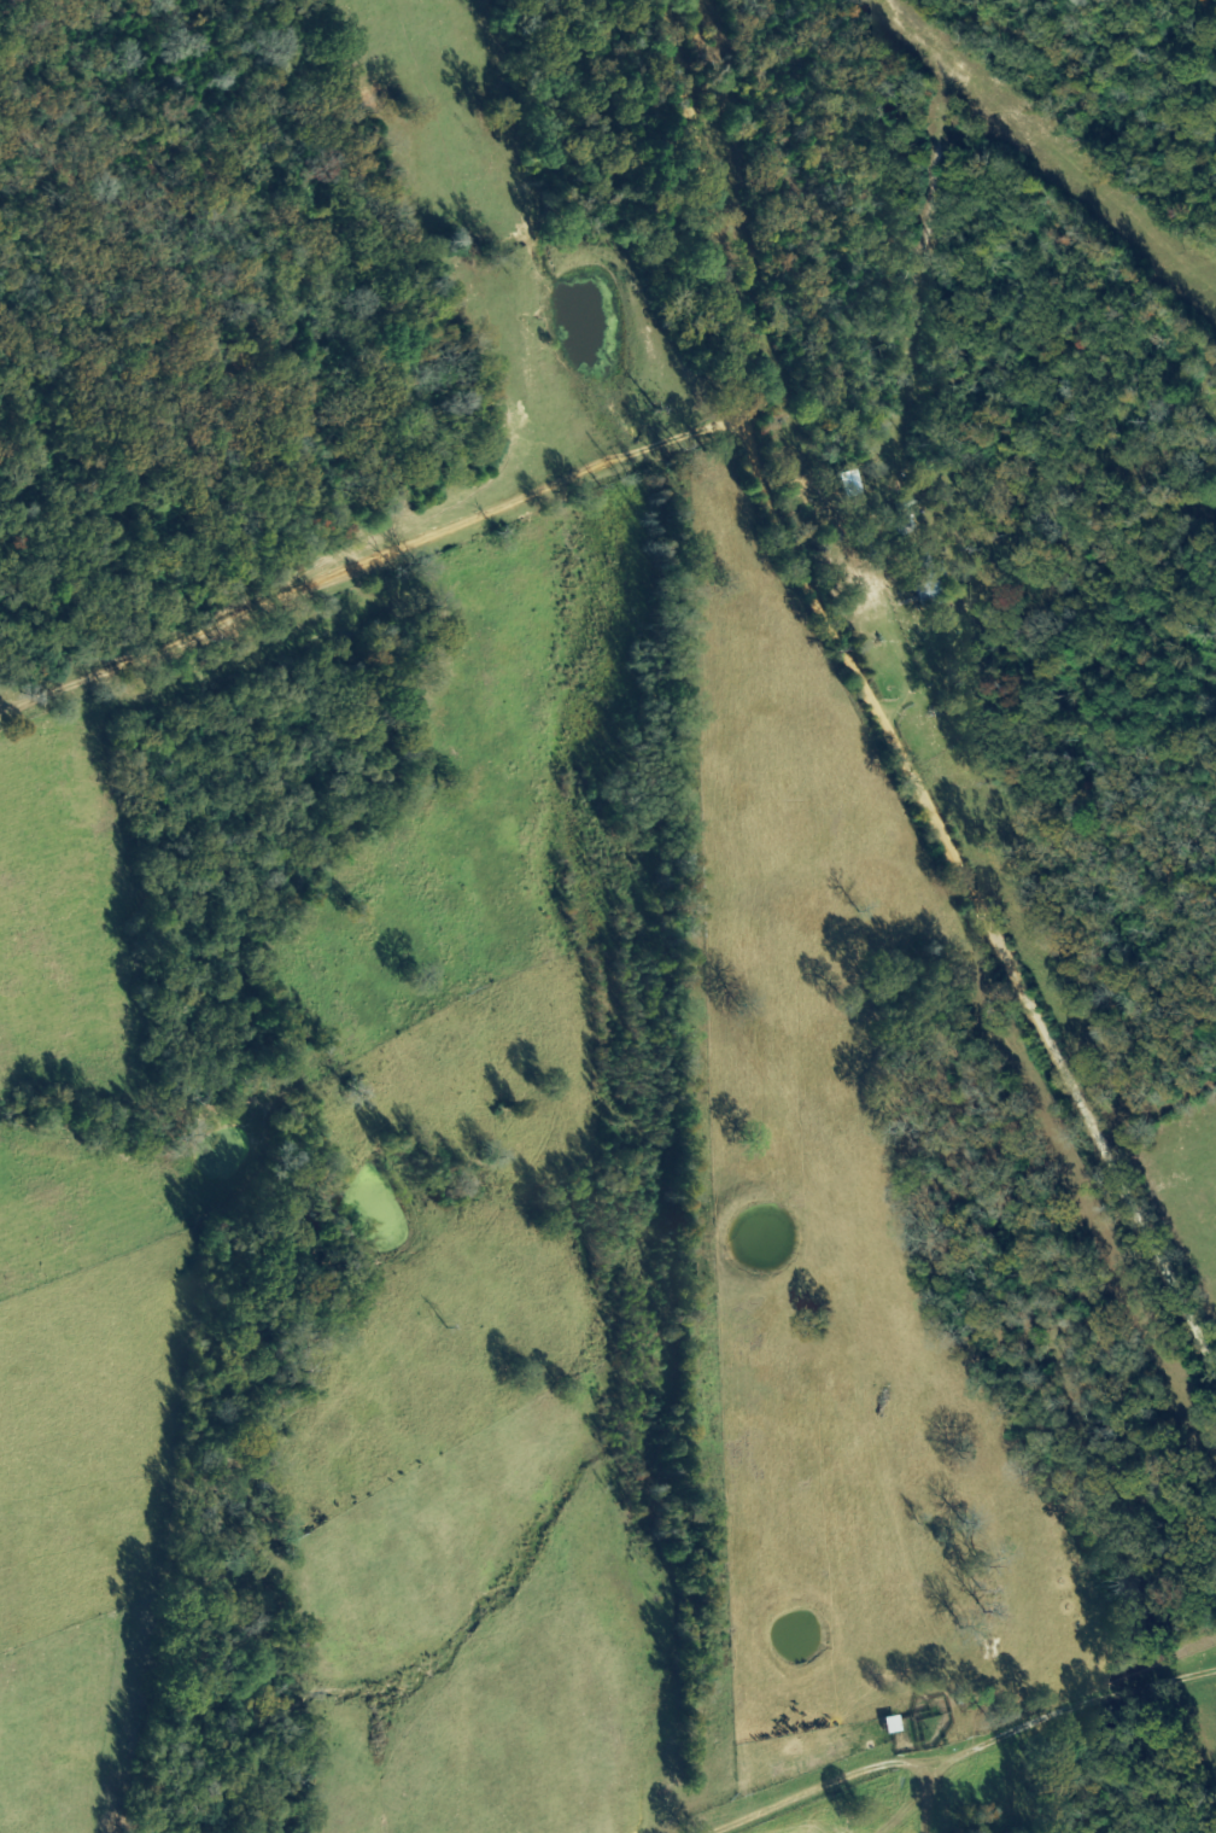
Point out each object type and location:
building: (925, 579)
road: (872, 708)
road: (1152, 1097)

